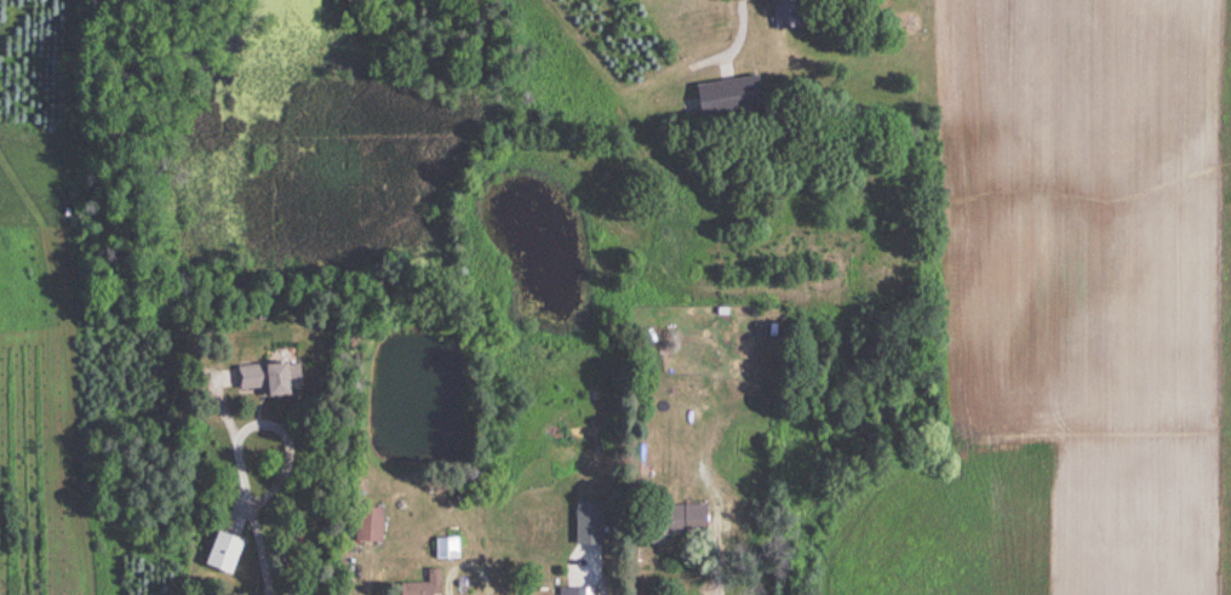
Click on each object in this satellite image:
building: (784, 13)
road: (715, 16)
building: (726, 96)
building: (268, 378)
building: (670, 522)
building: (367, 525)
building: (443, 548)
road: (710, 577)
road: (596, 579)
building: (420, 585)
building: (573, 591)

